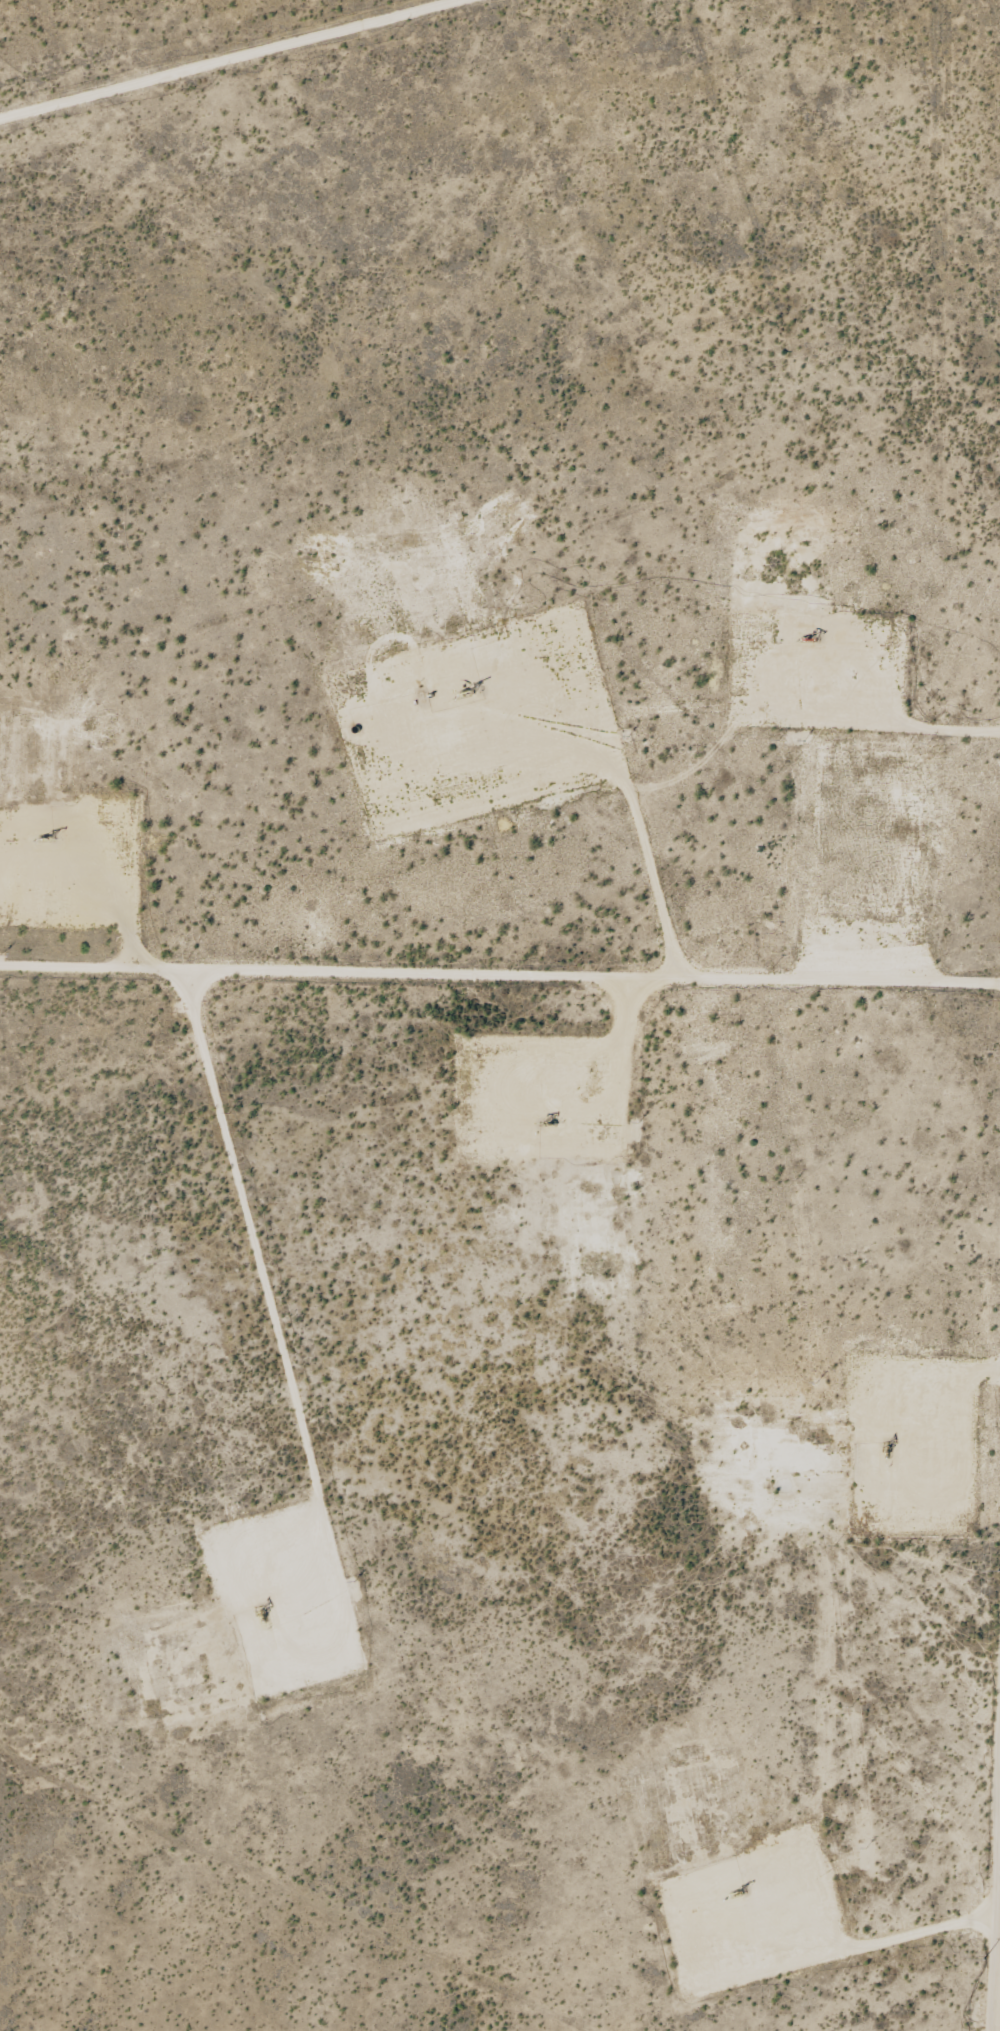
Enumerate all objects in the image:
power tower: (998, 1570)
road: (997, 1952)
power tower: (984, 1959)

